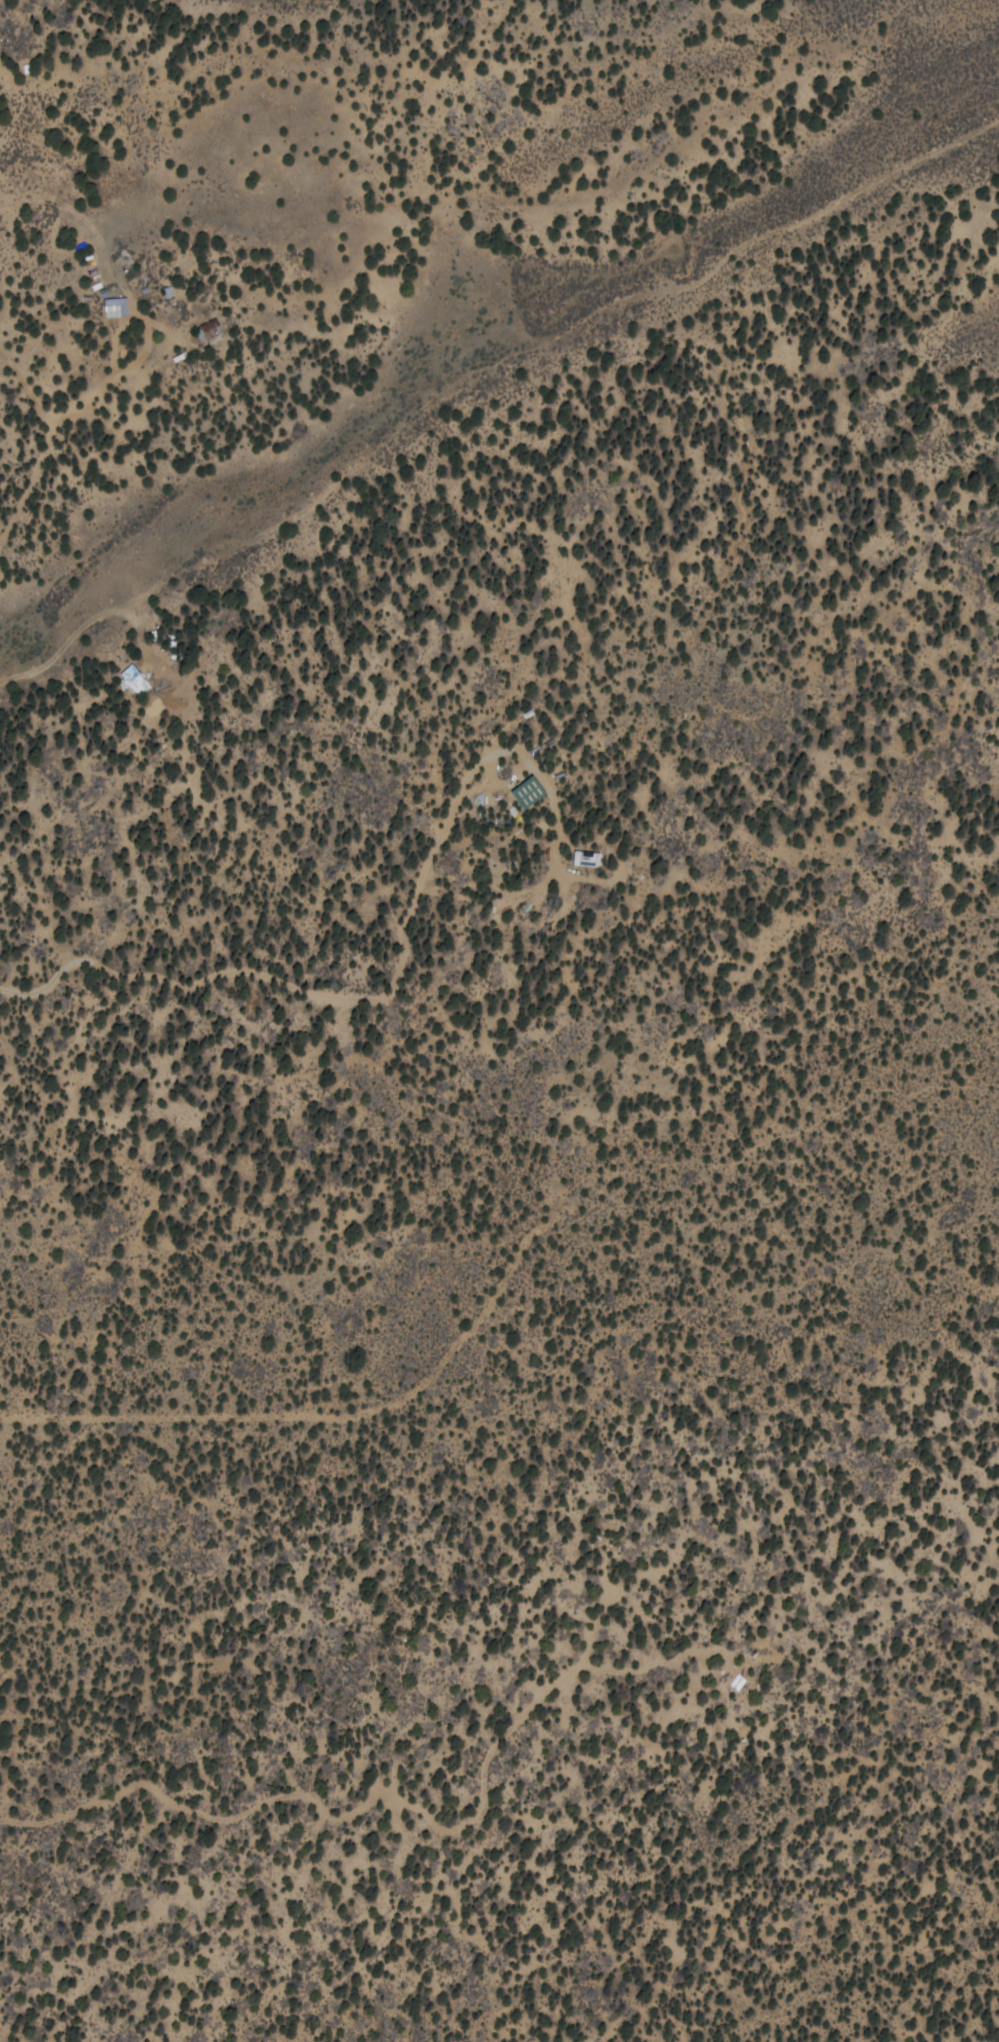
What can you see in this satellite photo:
building: (525, 791)

